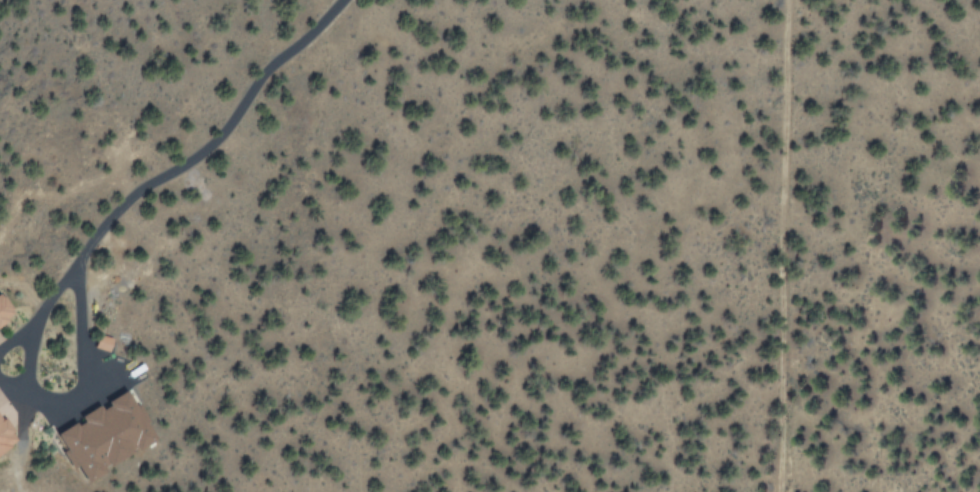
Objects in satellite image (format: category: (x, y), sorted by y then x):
building: (1, 309)
building: (2, 437)

